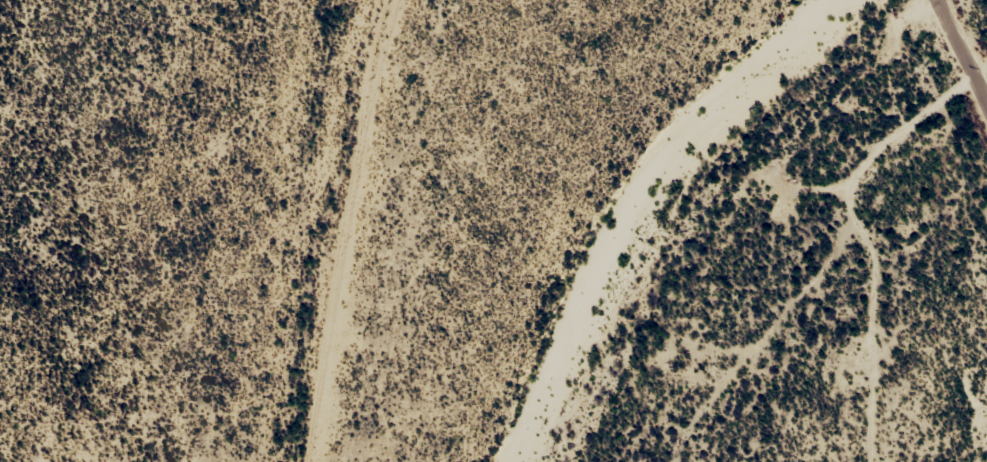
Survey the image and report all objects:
road: (937, 20)
road: (941, 56)
road: (785, 261)

